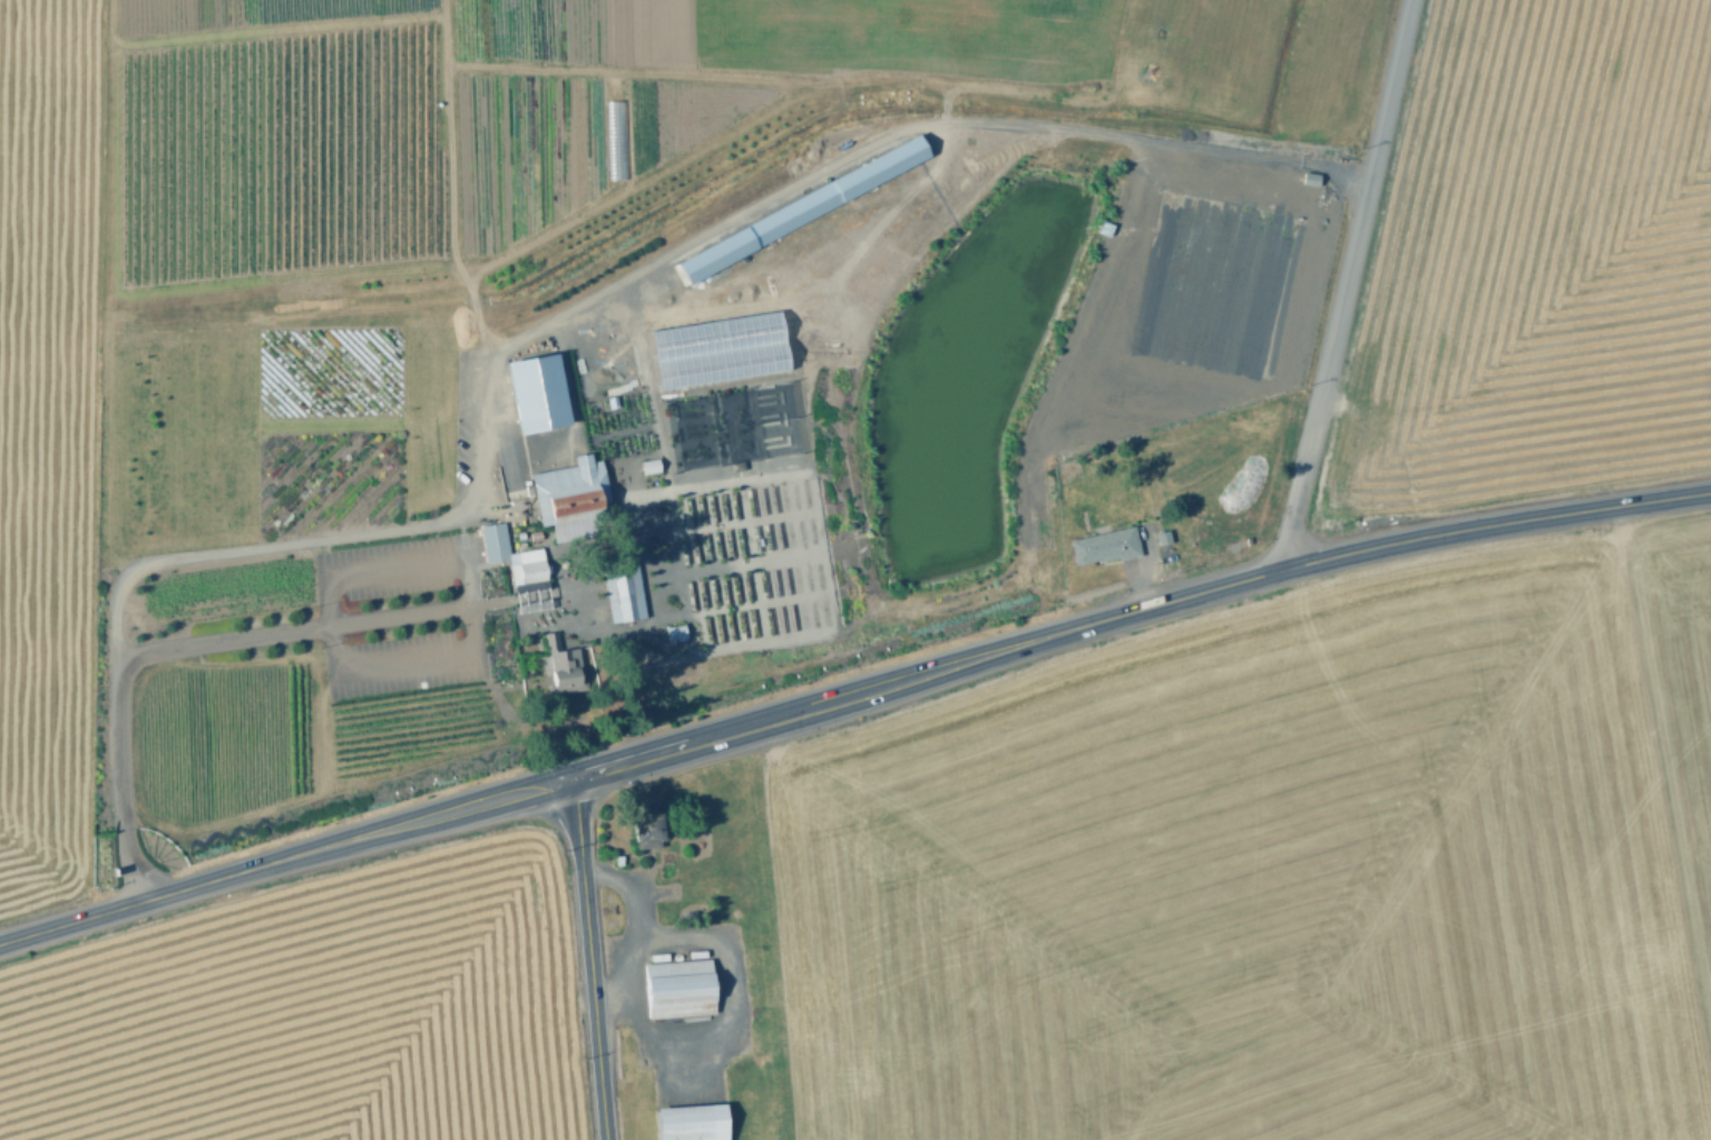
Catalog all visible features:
crop: (580, 128)
road: (897, 128)
road: (598, 138)
building: (615, 138)
road: (449, 187)
building: (798, 205)
road: (1352, 243)
crop: (1531, 266)
road: (105, 301)
building: (535, 391)
building: (648, 464)
building: (566, 503)
road: (1289, 527)
building: (1161, 537)
building: (1102, 545)
road: (198, 553)
building: (528, 572)
building: (612, 583)
parking lot: (397, 612)
building: (612, 620)
road: (331, 624)
road: (305, 625)
building: (674, 631)
building: (613, 639)
building: (548, 646)
building: (560, 678)
road: (850, 694)
building: (639, 828)
building: (616, 858)
crop: (1274, 878)
road: (590, 957)
road: (613, 981)
building: (674, 987)
crop: (312, 1014)
building: (620, 1049)
road: (675, 1049)
road: (678, 1074)
building: (687, 1121)

